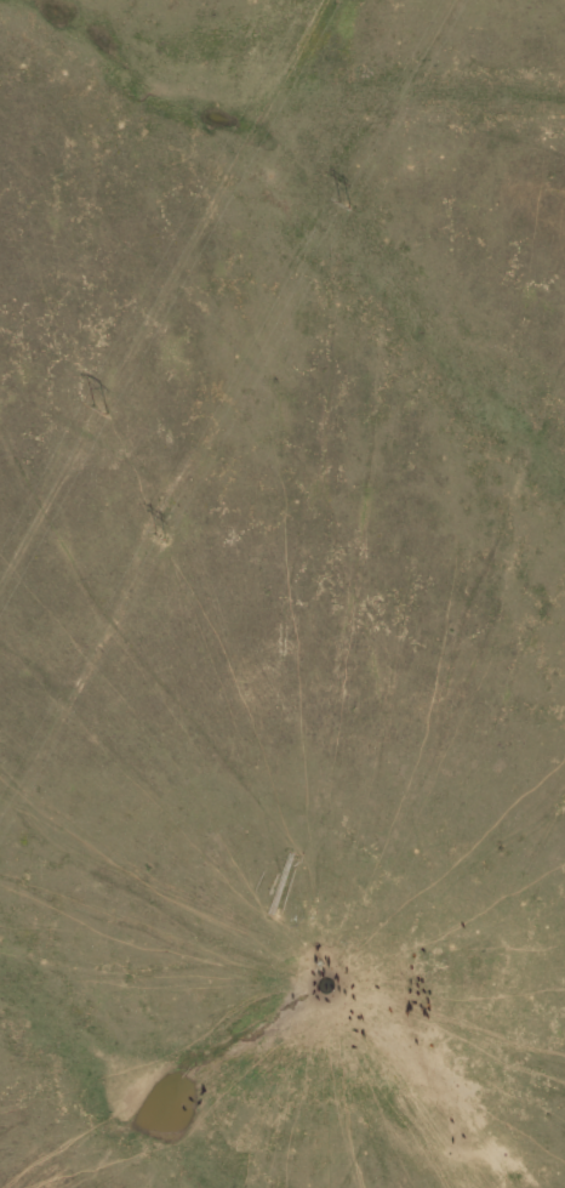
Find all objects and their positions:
power tower: (343, 205)
power tower: (98, 409)
power tower: (159, 536)
road: (287, 625)

